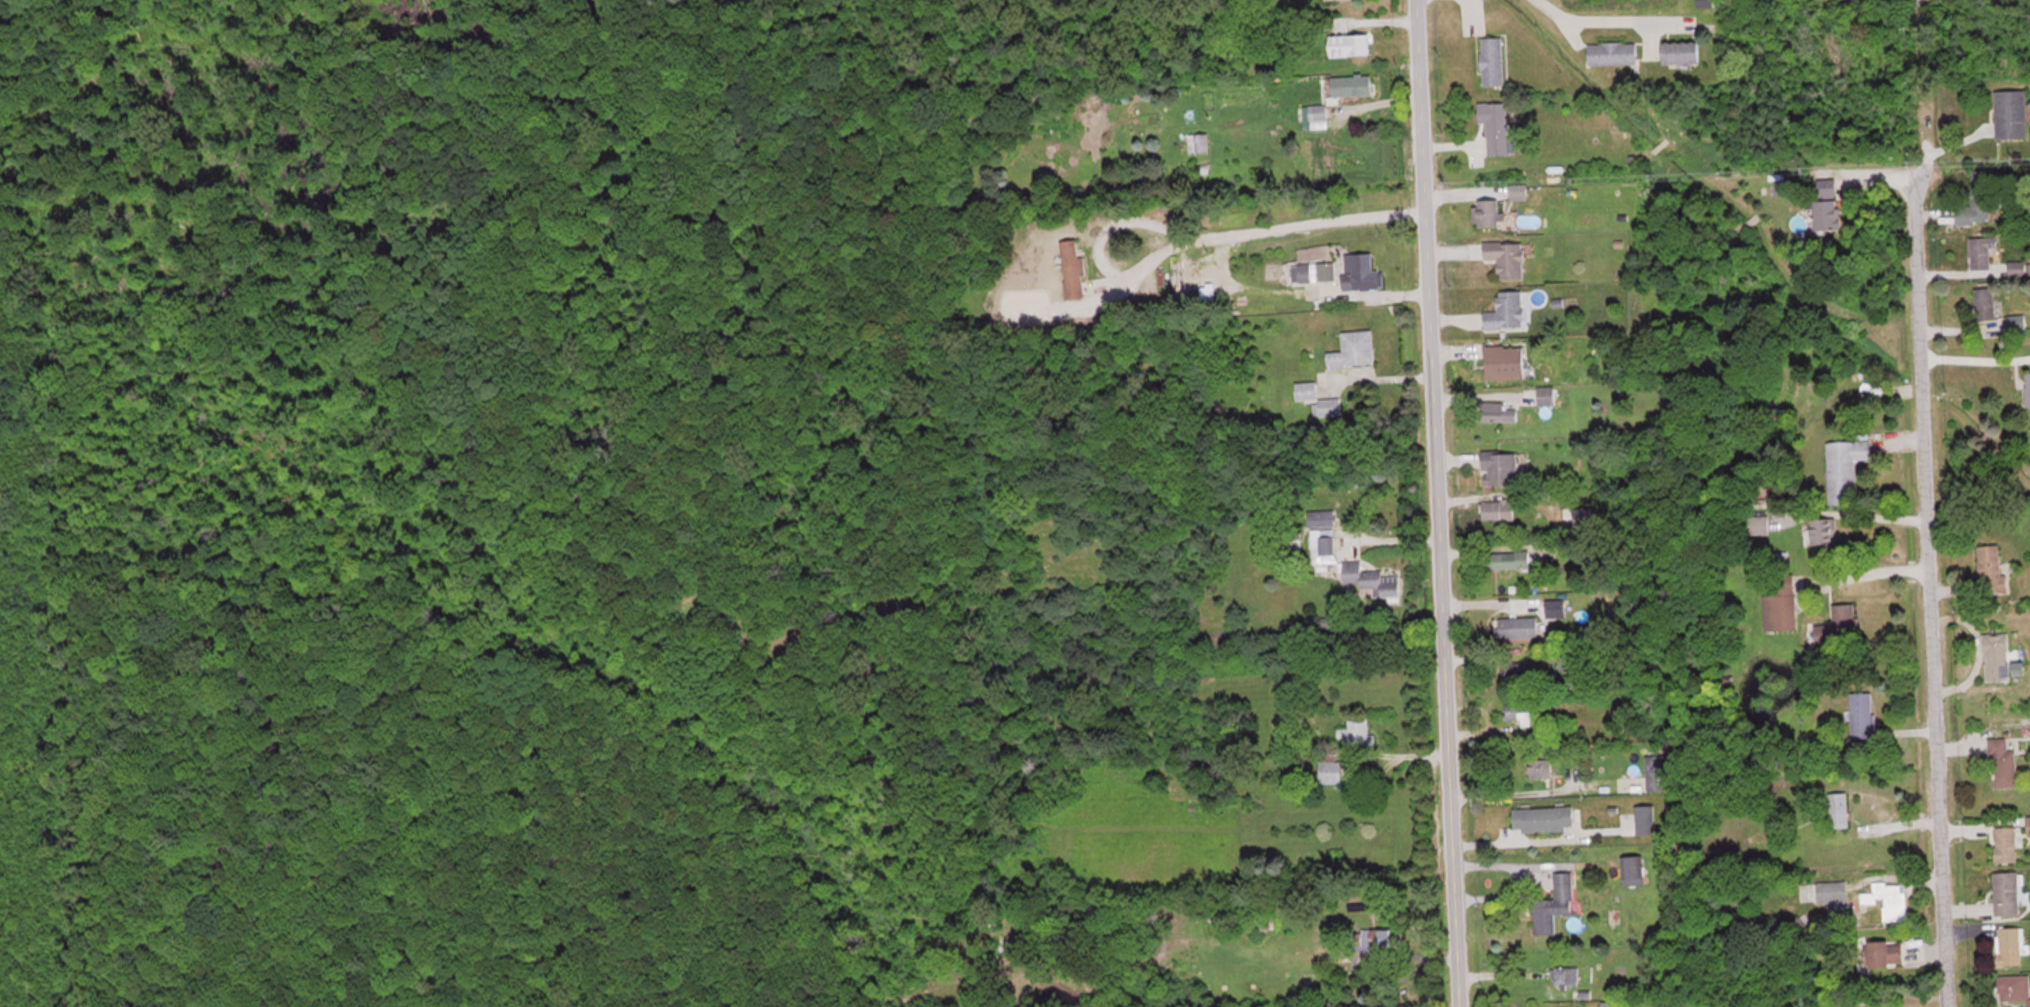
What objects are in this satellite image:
building: (1706, 3)
building: (1350, 45)
building: (1682, 52)
building: (1613, 53)
building: (1493, 61)
building: (1356, 85)
building: (2029, 104)
building: (1318, 113)
building: (2011, 114)
building: (1497, 127)
building: (1202, 143)
building: (1828, 187)
building: (1979, 200)
building: (1490, 213)
building: (1828, 215)
building: (1982, 251)
building: (1507, 258)
building: (1073, 262)
building: (1362, 271)
building: (1313, 272)
building: (1985, 303)
building: (1510, 310)
building: (1354, 349)
building: (1506, 362)
building: (2028, 388)
building: (1546, 395)
building: (1317, 399)
building: (1498, 411)
building: (1501, 468)
building: (1845, 468)
road: (1431, 503)
road: (1921, 503)
building: (1498, 510)
building: (1322, 518)
building: (1584, 519)
building: (1823, 531)
building: (1322, 545)
building: (1510, 560)
building: (1992, 570)
building: (1372, 579)
building: (1781, 603)
building: (1555, 606)
building: (1516, 625)
building: (1838, 626)
building: (1997, 656)
building: (1570, 659)
building: (1520, 672)
building: (1518, 712)
building: (1862, 714)
building: (1358, 730)
building: (2002, 763)
building: (1539, 766)
building: (1329, 767)
building: (1659, 771)
building: (1839, 809)
building: (1544, 817)
building: (1645, 818)
building: (2029, 825)
building: (2006, 844)
building: (1632, 869)
building: (2006, 892)
building: (1832, 894)
building: (1888, 899)
building: (1554, 904)
building: (1370, 939)
building: (2010, 945)
building: (1886, 953)
building: (1565, 975)
building: (2015, 987)

